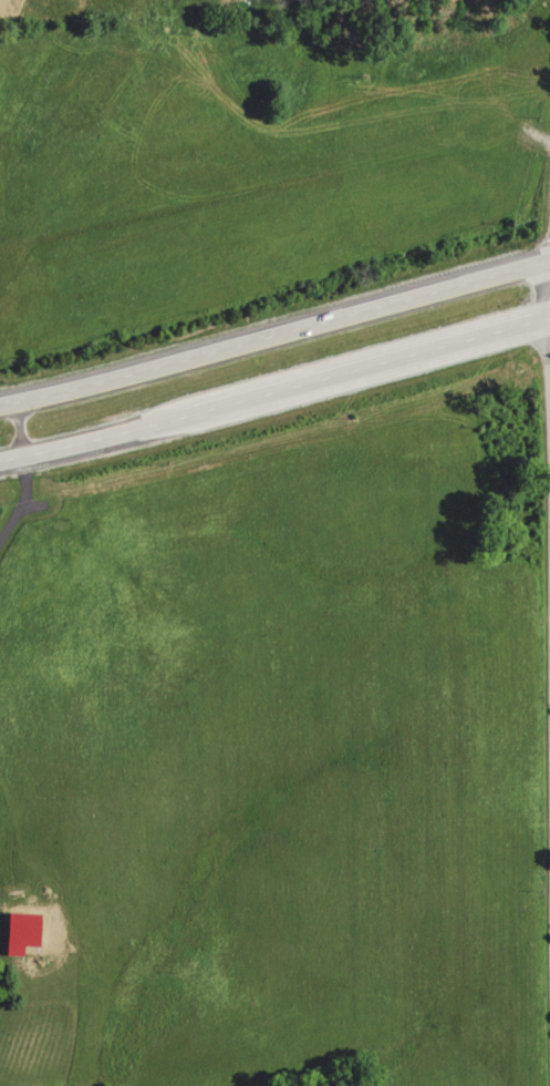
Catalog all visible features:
road: (274, 332)
road: (370, 368)
road: (3, 432)
road: (94, 441)
road: (21, 501)

